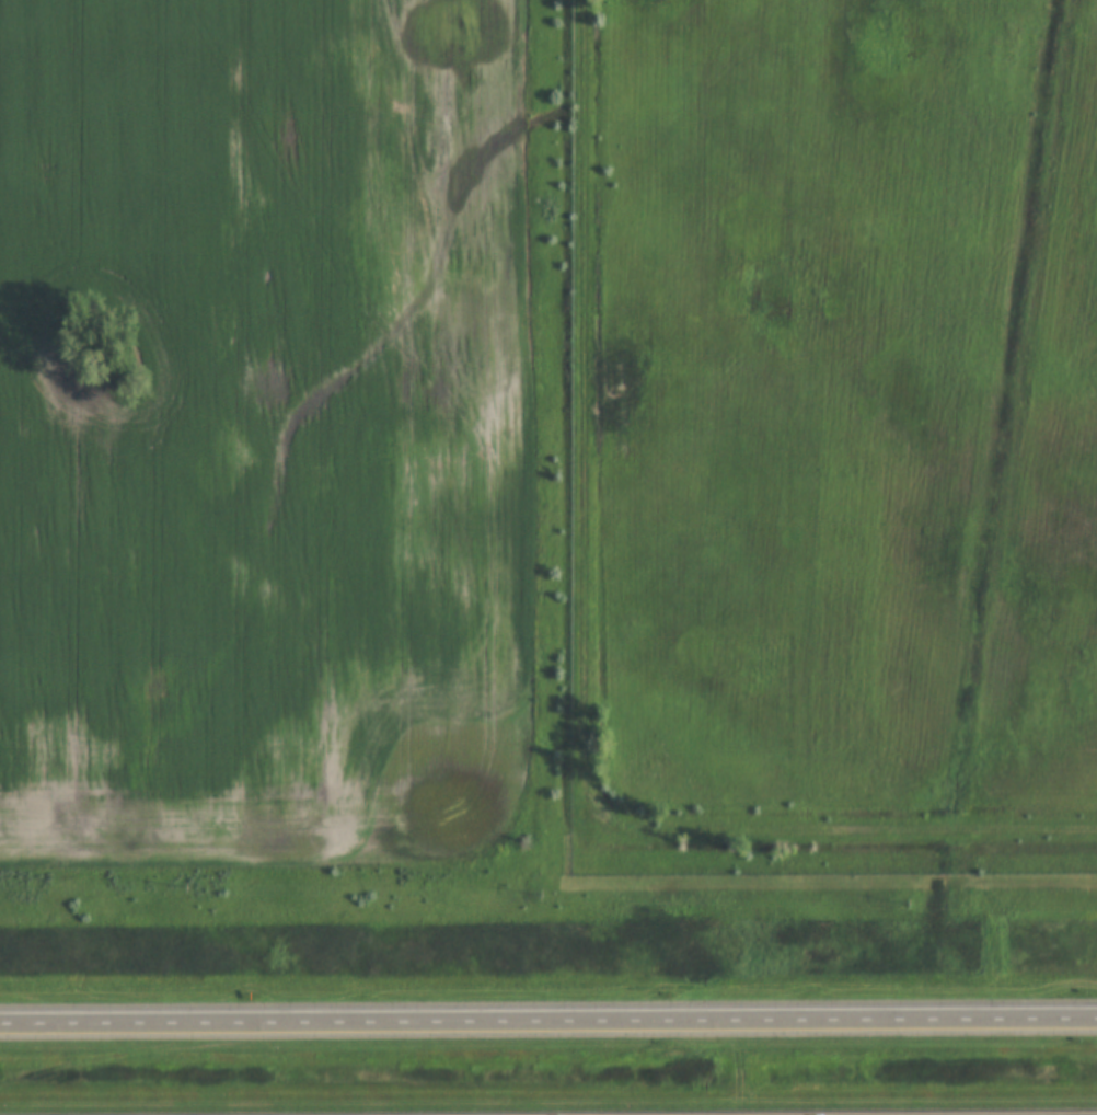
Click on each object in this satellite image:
road: (548, 1016)
road: (1024, 1114)

